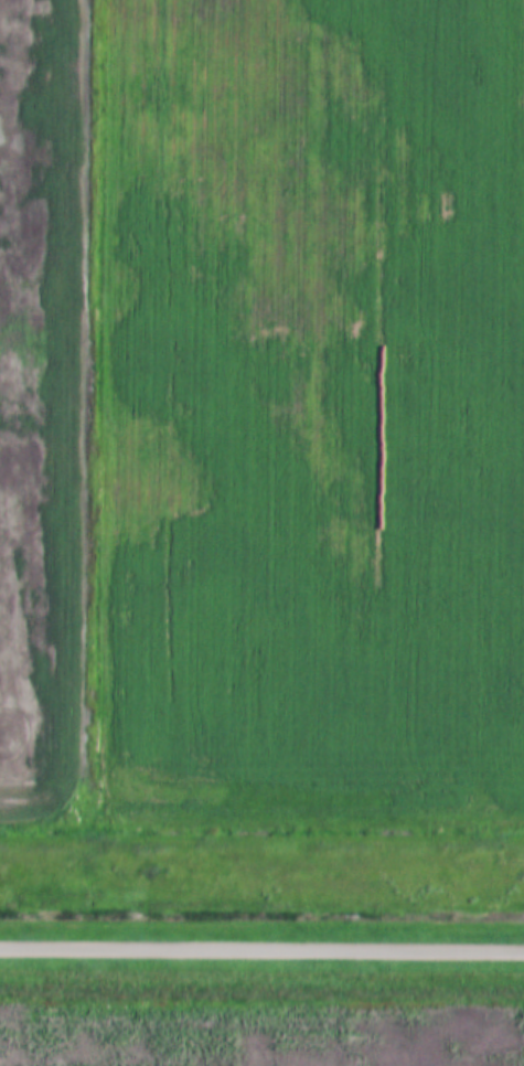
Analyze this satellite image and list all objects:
road: (261, 951)

